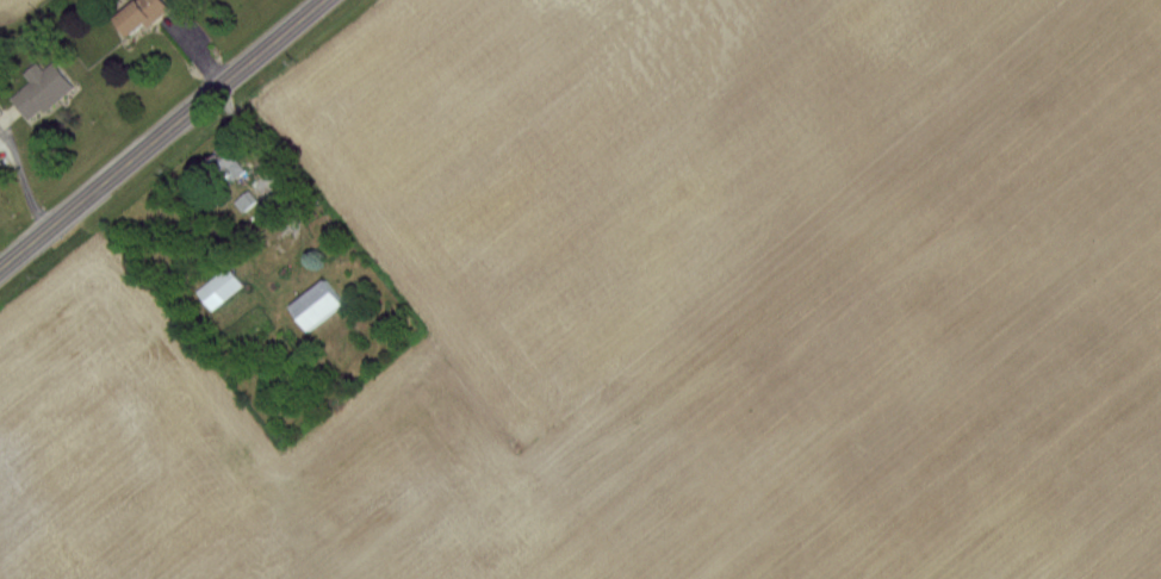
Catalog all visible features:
building: (149, 15)
building: (50, 91)
road: (161, 135)
building: (238, 161)
building: (250, 203)
building: (225, 288)
building: (328, 305)

